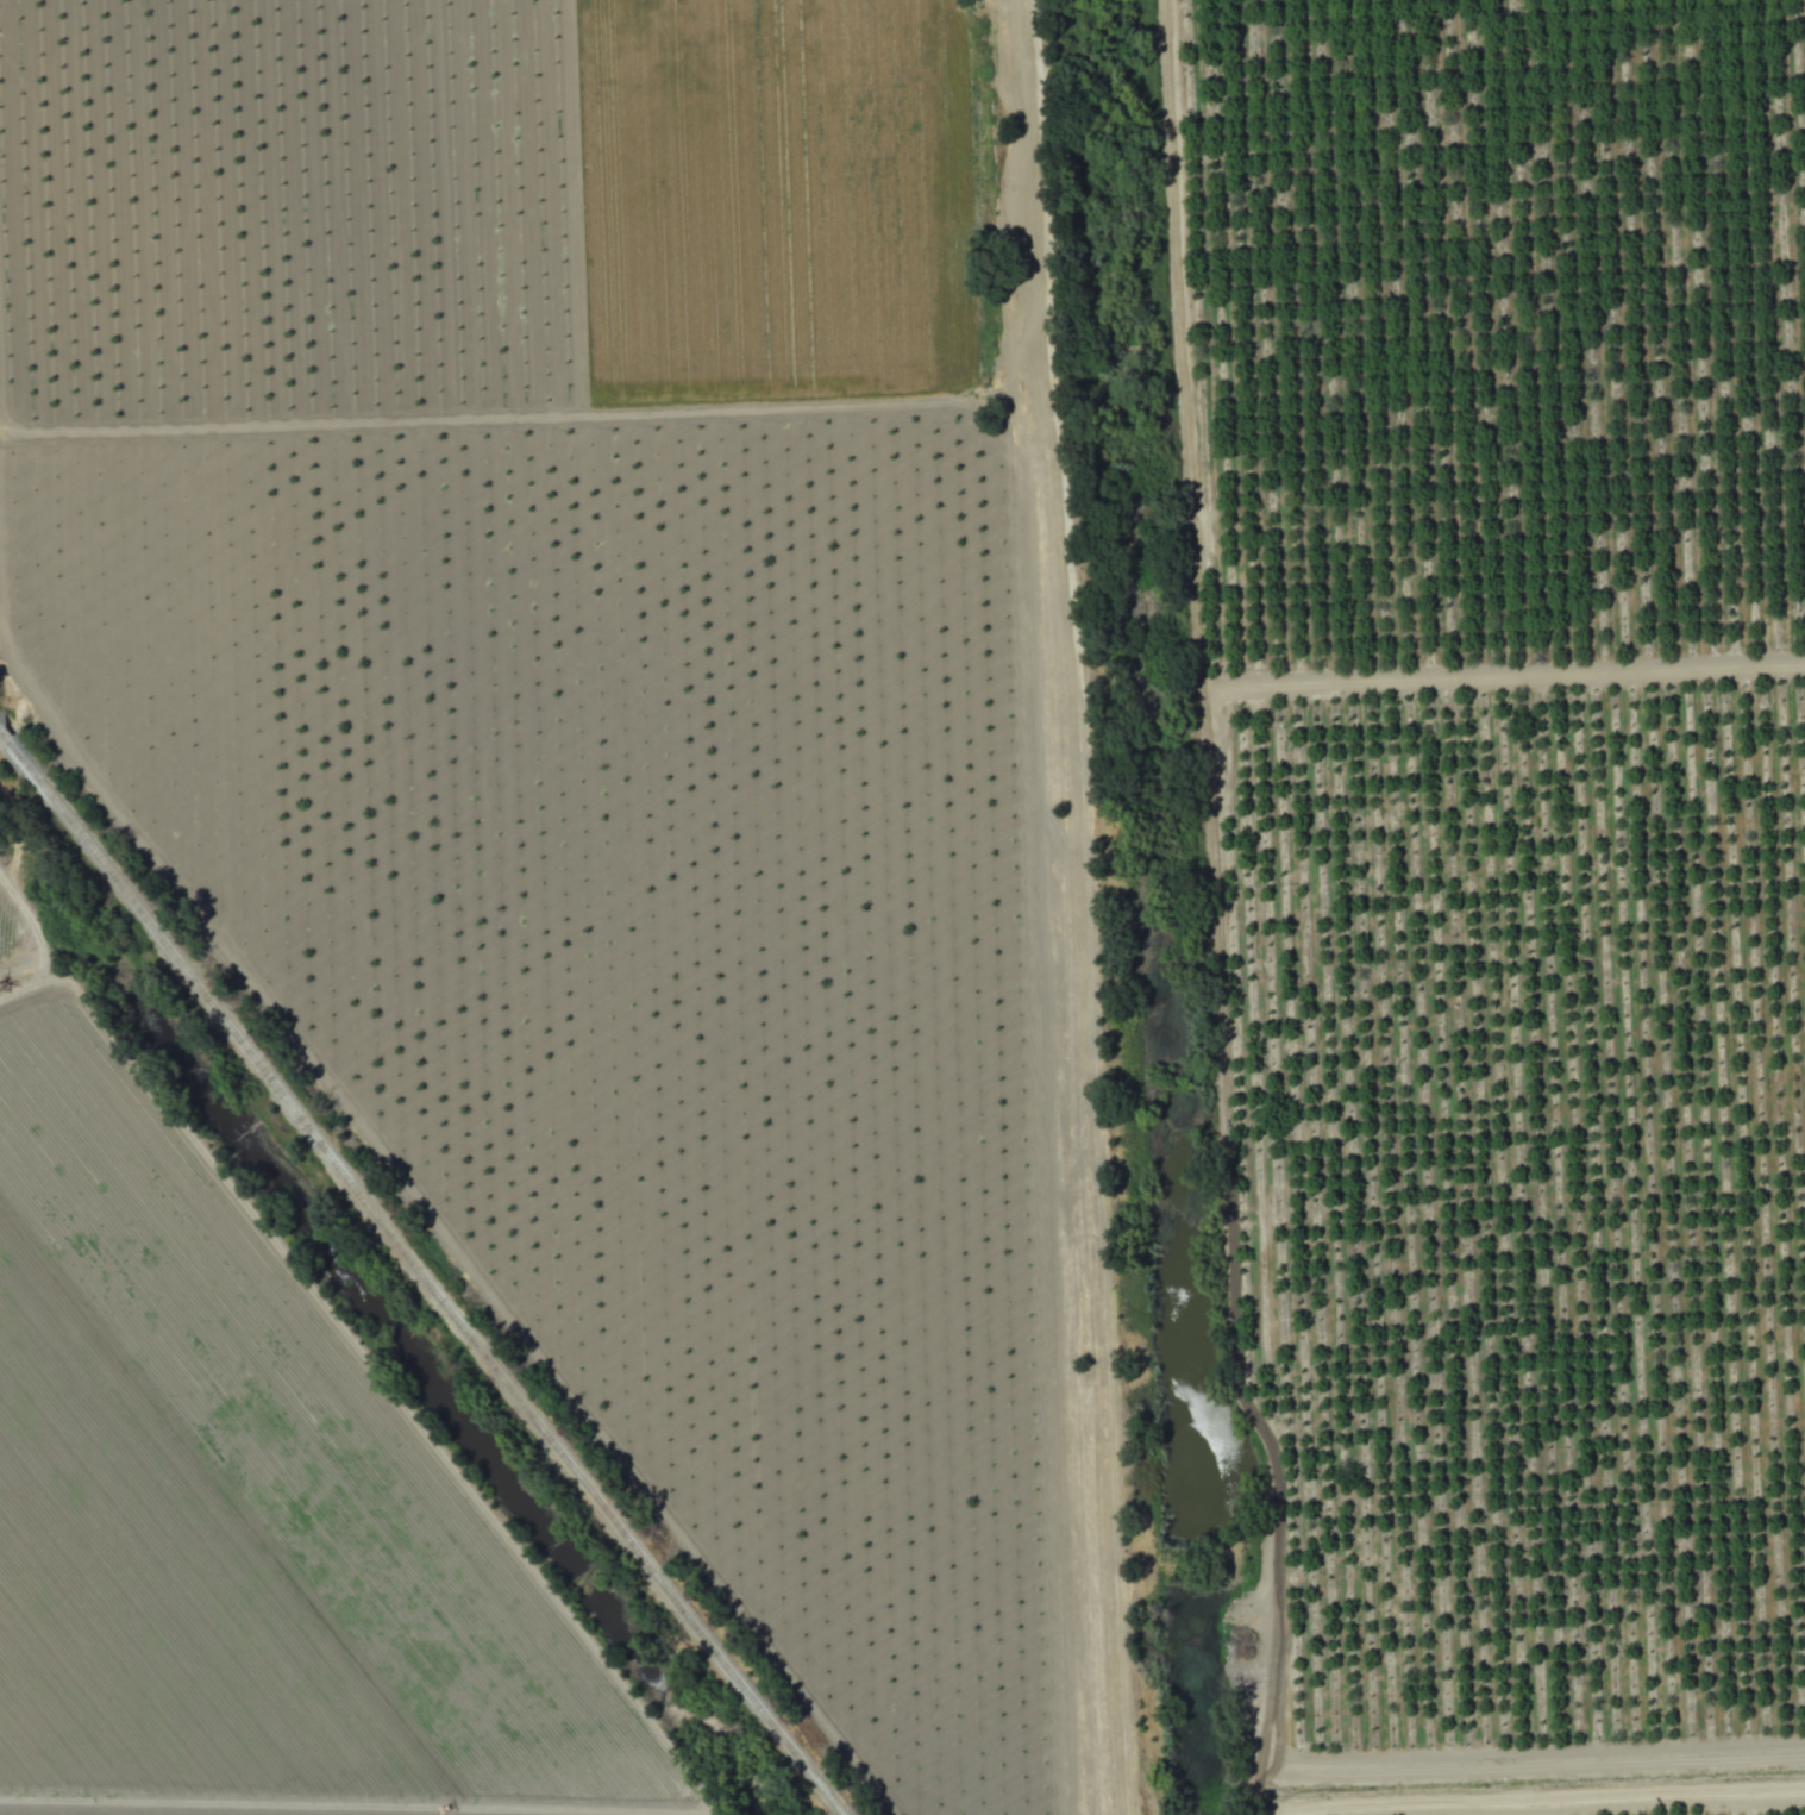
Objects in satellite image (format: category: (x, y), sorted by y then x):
crop: (1493, 878)
crop: (531, 927)
railway: (422, 1270)

